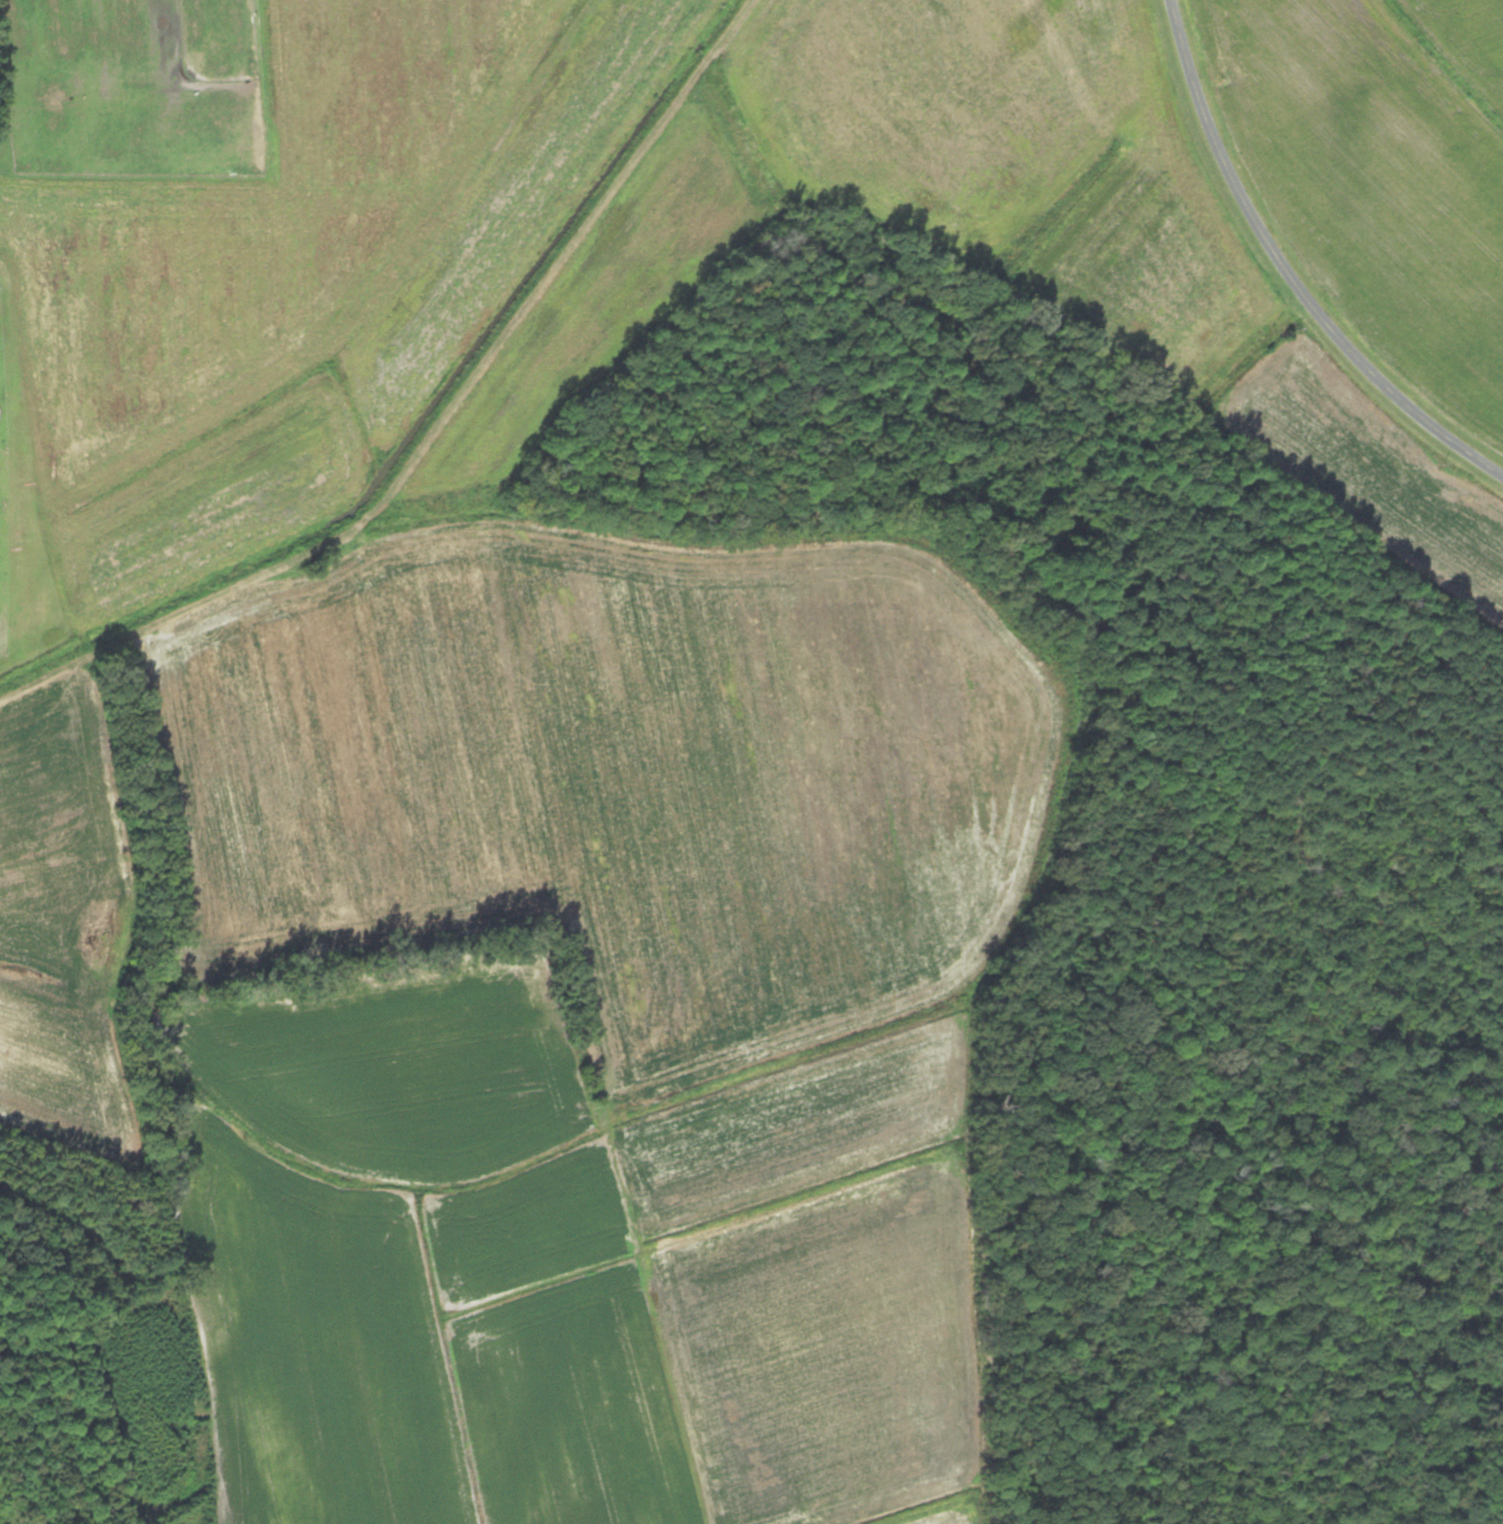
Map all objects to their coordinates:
road: (1283, 278)

